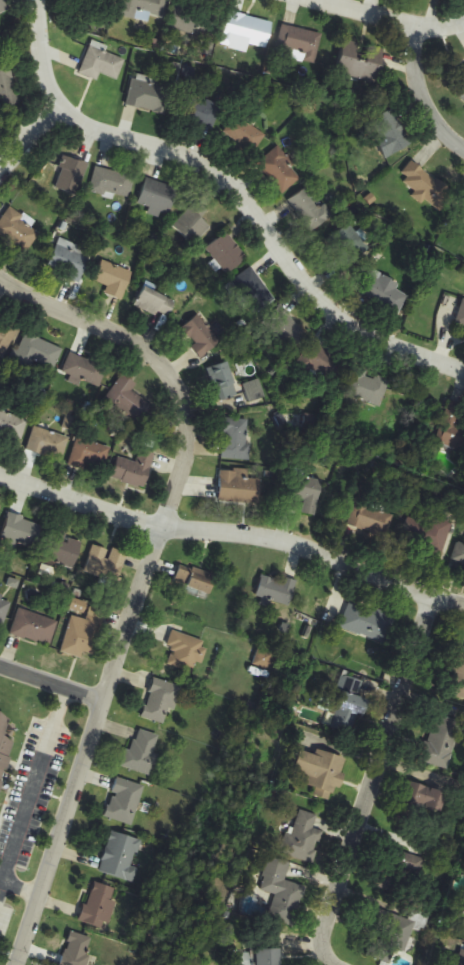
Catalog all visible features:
building: (90, 2)
building: (6, 6)
building: (142, 9)
building: (190, 18)
road: (390, 18)
building: (246, 30)
building: (298, 41)
building: (360, 62)
building: (101, 64)
building: (7, 87)
building: (459, 89)
road: (420, 93)
building: (149, 96)
building: (200, 111)
building: (243, 134)
building: (391, 134)
road: (28, 141)
building: (279, 171)
building: (71, 175)
building: (112, 183)
building: (425, 187)
road: (230, 190)
building: (158, 196)
building: (309, 211)
building: (463, 213)
building: (193, 223)
building: (17, 231)
building: (227, 253)
building: (69, 260)
building: (114, 279)
building: (253, 290)
building: (383, 292)
building: (153, 303)
building: (284, 327)
building: (200, 335)
building: (6, 338)
building: (39, 352)
building: (327, 362)
building: (83, 369)
building: (223, 381)
building: (365, 388)
building: (255, 391)
building: (128, 400)
building: (453, 424)
building: (12, 427)
building: (236, 439)
building: (48, 443)
building: (88, 454)
building: (134, 471)
building: (238, 487)
building: (303, 495)
building: (372, 520)
building: (21, 532)
building: (435, 534)
road: (233, 535)
building: (63, 551)
building: (459, 554)
building: (106, 563)
road: (144, 576)
building: (194, 580)
building: (275, 589)
building: (4, 609)
building: (367, 622)
building: (34, 627)
building: (84, 634)
building: (186, 653)
building: (264, 660)
building: (458, 678)
road: (49, 688)
building: (160, 701)
building: (348, 706)
building: (441, 742)
building: (4, 745)
building: (142, 753)
building: (320, 771)
road: (372, 781)
road: (33, 788)
building: (424, 798)
building: (124, 801)
building: (303, 837)
building: (120, 857)
building: (385, 878)
road: (2, 886)
road: (22, 886)
building: (281, 891)
building: (99, 905)
building: (407, 927)
building: (76, 950)
building: (265, 957)
building: (450, 958)

